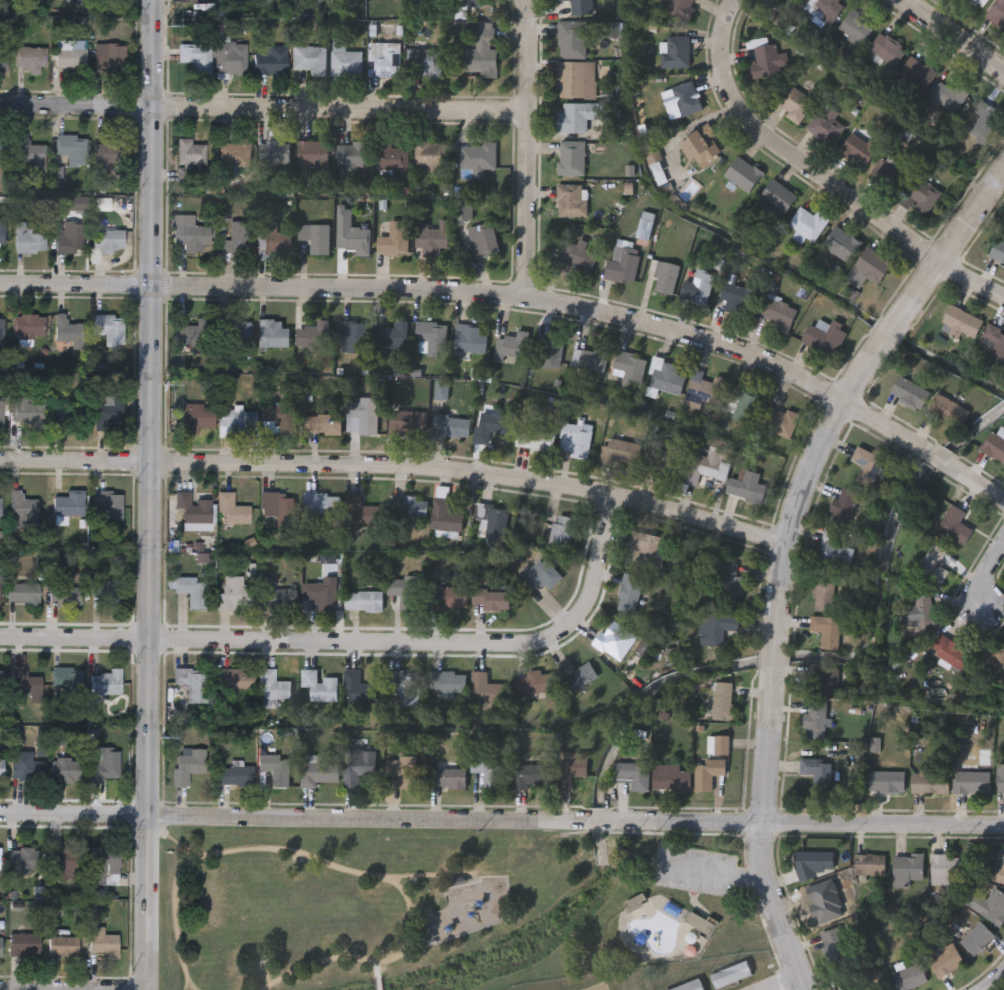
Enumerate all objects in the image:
building: (796, 0)
building: (188, 1)
building: (977, 2)
building: (475, 4)
building: (582, 8)
building: (682, 9)
building: (825, 11)
building: (998, 13)
power tower: (166, 29)
building: (857, 29)
road: (950, 38)
building: (575, 40)
building: (886, 53)
building: (483, 54)
building: (676, 55)
building: (71, 56)
building: (4, 58)
building: (232, 59)
building: (199, 60)
building: (31, 61)
building: (111, 61)
building: (384, 61)
building: (271, 62)
building: (310, 62)
building: (344, 62)
building: (770, 64)
building: (424, 65)
building: (918, 75)
building: (577, 81)
building: (950, 98)
building: (685, 101)
building: (795, 105)
road: (262, 107)
building: (579, 118)
building: (985, 123)
building: (826, 127)
building: (4, 146)
building: (703, 148)
road: (524, 149)
building: (73, 151)
building: (860, 152)
building: (114, 153)
building: (275, 154)
building: (31, 155)
building: (313, 155)
building: (234, 156)
building: (189, 158)
building: (392, 159)
building: (432, 159)
building: (353, 160)
building: (572, 160)
building: (477, 161)
building: (745, 176)
building: (889, 178)
road: (818, 181)
building: (921, 198)
building: (779, 199)
building: (572, 202)
building: (810, 225)
building: (647, 228)
building: (2, 232)
building: (191, 235)
building: (352, 238)
building: (31, 239)
building: (238, 239)
building: (71, 240)
building: (315, 240)
building: (431, 241)
road: (949, 241)
building: (108, 242)
building: (272, 242)
building: (394, 242)
building: (482, 242)
building: (843, 246)
building: (999, 250)
building: (577, 257)
building: (623, 266)
building: (874, 267)
building: (664, 277)
road: (478, 295)
building: (737, 300)
building: (780, 314)
building: (961, 324)
building: (29, 327)
building: (109, 328)
building: (2, 331)
road: (882, 332)
building: (67, 335)
building: (195, 335)
building: (272, 335)
building: (355, 337)
building: (392, 337)
building: (235, 338)
building: (314, 339)
building: (431, 339)
building: (825, 339)
building: (470, 340)
building: (996, 346)
building: (511, 348)
building: (550, 354)
building: (591, 361)
building: (631, 371)
power tower: (164, 377)
building: (666, 377)
building: (910, 393)
building: (706, 395)
building: (745, 405)
building: (949, 410)
building: (2, 414)
building: (109, 414)
building: (30, 415)
building: (362, 415)
building: (66, 417)
building: (199, 417)
building: (323, 419)
building: (279, 420)
building: (779, 422)
building: (237, 423)
building: (408, 424)
building: (492, 425)
building: (453, 427)
building: (535, 440)
building: (575, 440)
building: (995, 447)
building: (621, 453)
road: (934, 458)
building: (667, 463)
building: (710, 465)
road: (396, 468)
building: (868, 468)
road: (973, 482)
building: (747, 488)
road: (796, 488)
road: (151, 494)
building: (69, 505)
building: (322, 505)
building: (108, 506)
building: (0, 507)
building: (23, 507)
building: (844, 508)
building: (194, 509)
building: (411, 509)
building: (233, 511)
building: (277, 511)
building: (357, 511)
building: (446, 517)
building: (492, 521)
building: (956, 526)
building: (561, 536)
building: (648, 548)
building: (835, 551)
building: (934, 567)
building: (541, 576)
road: (981, 580)
building: (730, 586)
building: (0, 592)
building: (108, 593)
building: (192, 593)
building: (824, 593)
building: (406, 594)
building: (629, 594)
building: (24, 595)
building: (236, 595)
building: (323, 595)
building: (66, 596)
building: (279, 599)
building: (451, 601)
building: (492, 601)
building: (364, 602)
building: (924, 613)
building: (716, 629)
building: (828, 633)
building: (615, 640)
road: (358, 644)
building: (951, 652)
road: (770, 657)
building: (579, 676)
building: (823, 681)
building: (236, 682)
building: (69, 683)
building: (1, 684)
building: (106, 684)
building: (192, 684)
building: (448, 684)
building: (536, 684)
building: (27, 686)
building: (273, 687)
building: (319, 687)
building: (405, 688)
building: (360, 690)
building: (485, 690)
building: (724, 701)
building: (816, 721)
power tower: (157, 732)
building: (718, 747)
building: (189, 765)
building: (22, 767)
building: (105, 767)
building: (358, 768)
building: (2, 771)
building: (66, 771)
building: (818, 771)
building: (488, 772)
building: (404, 773)
building: (280, 774)
building: (320, 774)
building: (567, 775)
building: (634, 775)
building: (708, 775)
building: (235, 776)
building: (530, 777)
building: (447, 780)
building: (888, 780)
building: (1001, 780)
building: (931, 781)
building: (672, 782)
building: (972, 783)
road: (501, 819)
road: (763, 832)
building: (22, 860)
building: (103, 861)
building: (0, 862)
building: (63, 862)
road: (445, 863)
building: (814, 863)
building: (869, 864)
road: (361, 866)
building: (946, 867)
building: (907, 868)
building: (998, 868)
road: (714, 870)
building: (986, 903)
park: (443, 906)
building: (701, 925)
building: (978, 937)
building: (101, 943)
building: (24, 945)
building: (0, 947)
building: (64, 947)
building: (946, 959)
road: (377, 968)
building: (730, 974)
building: (911, 976)
road: (995, 981)
road: (192, 982)
road: (208, 982)
road: (378, 983)
road: (782, 983)
building: (688, 985)
building: (859, 987)

